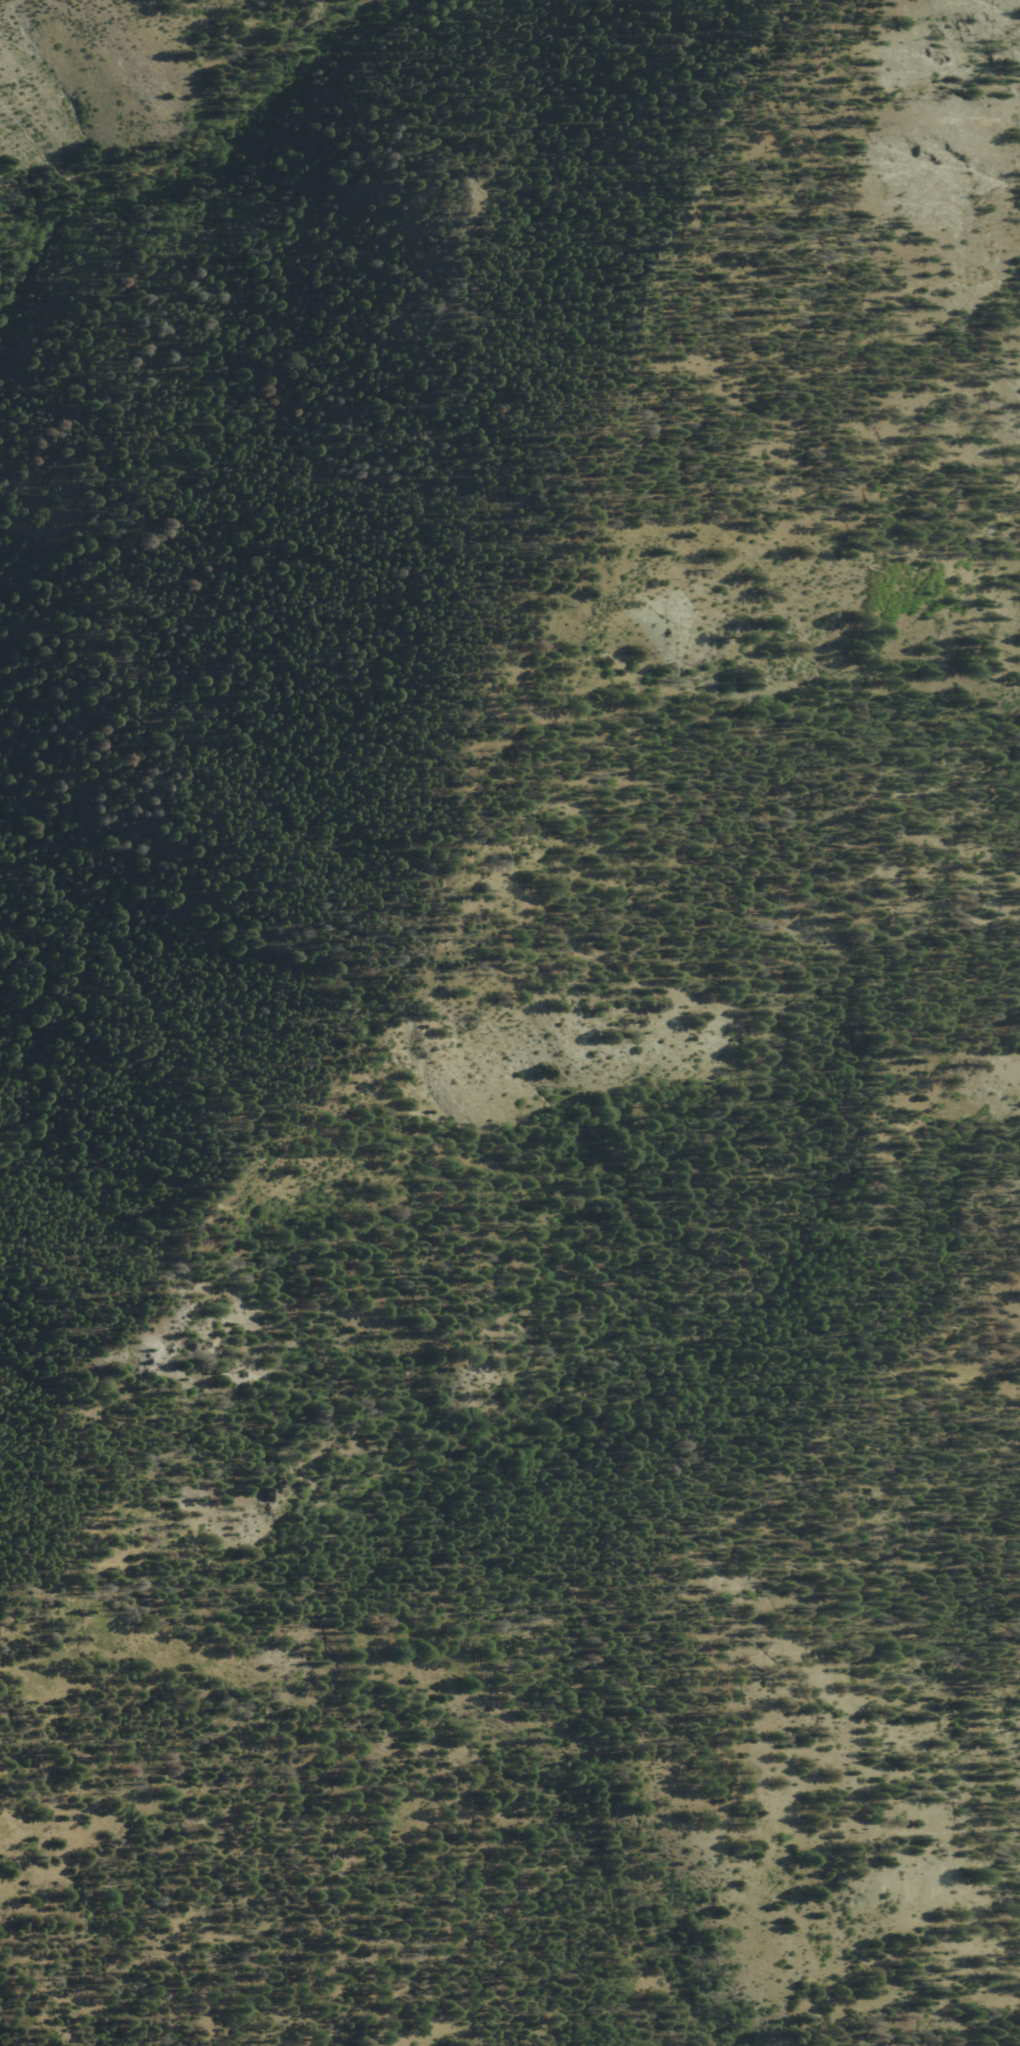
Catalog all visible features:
road: (189, 150)

